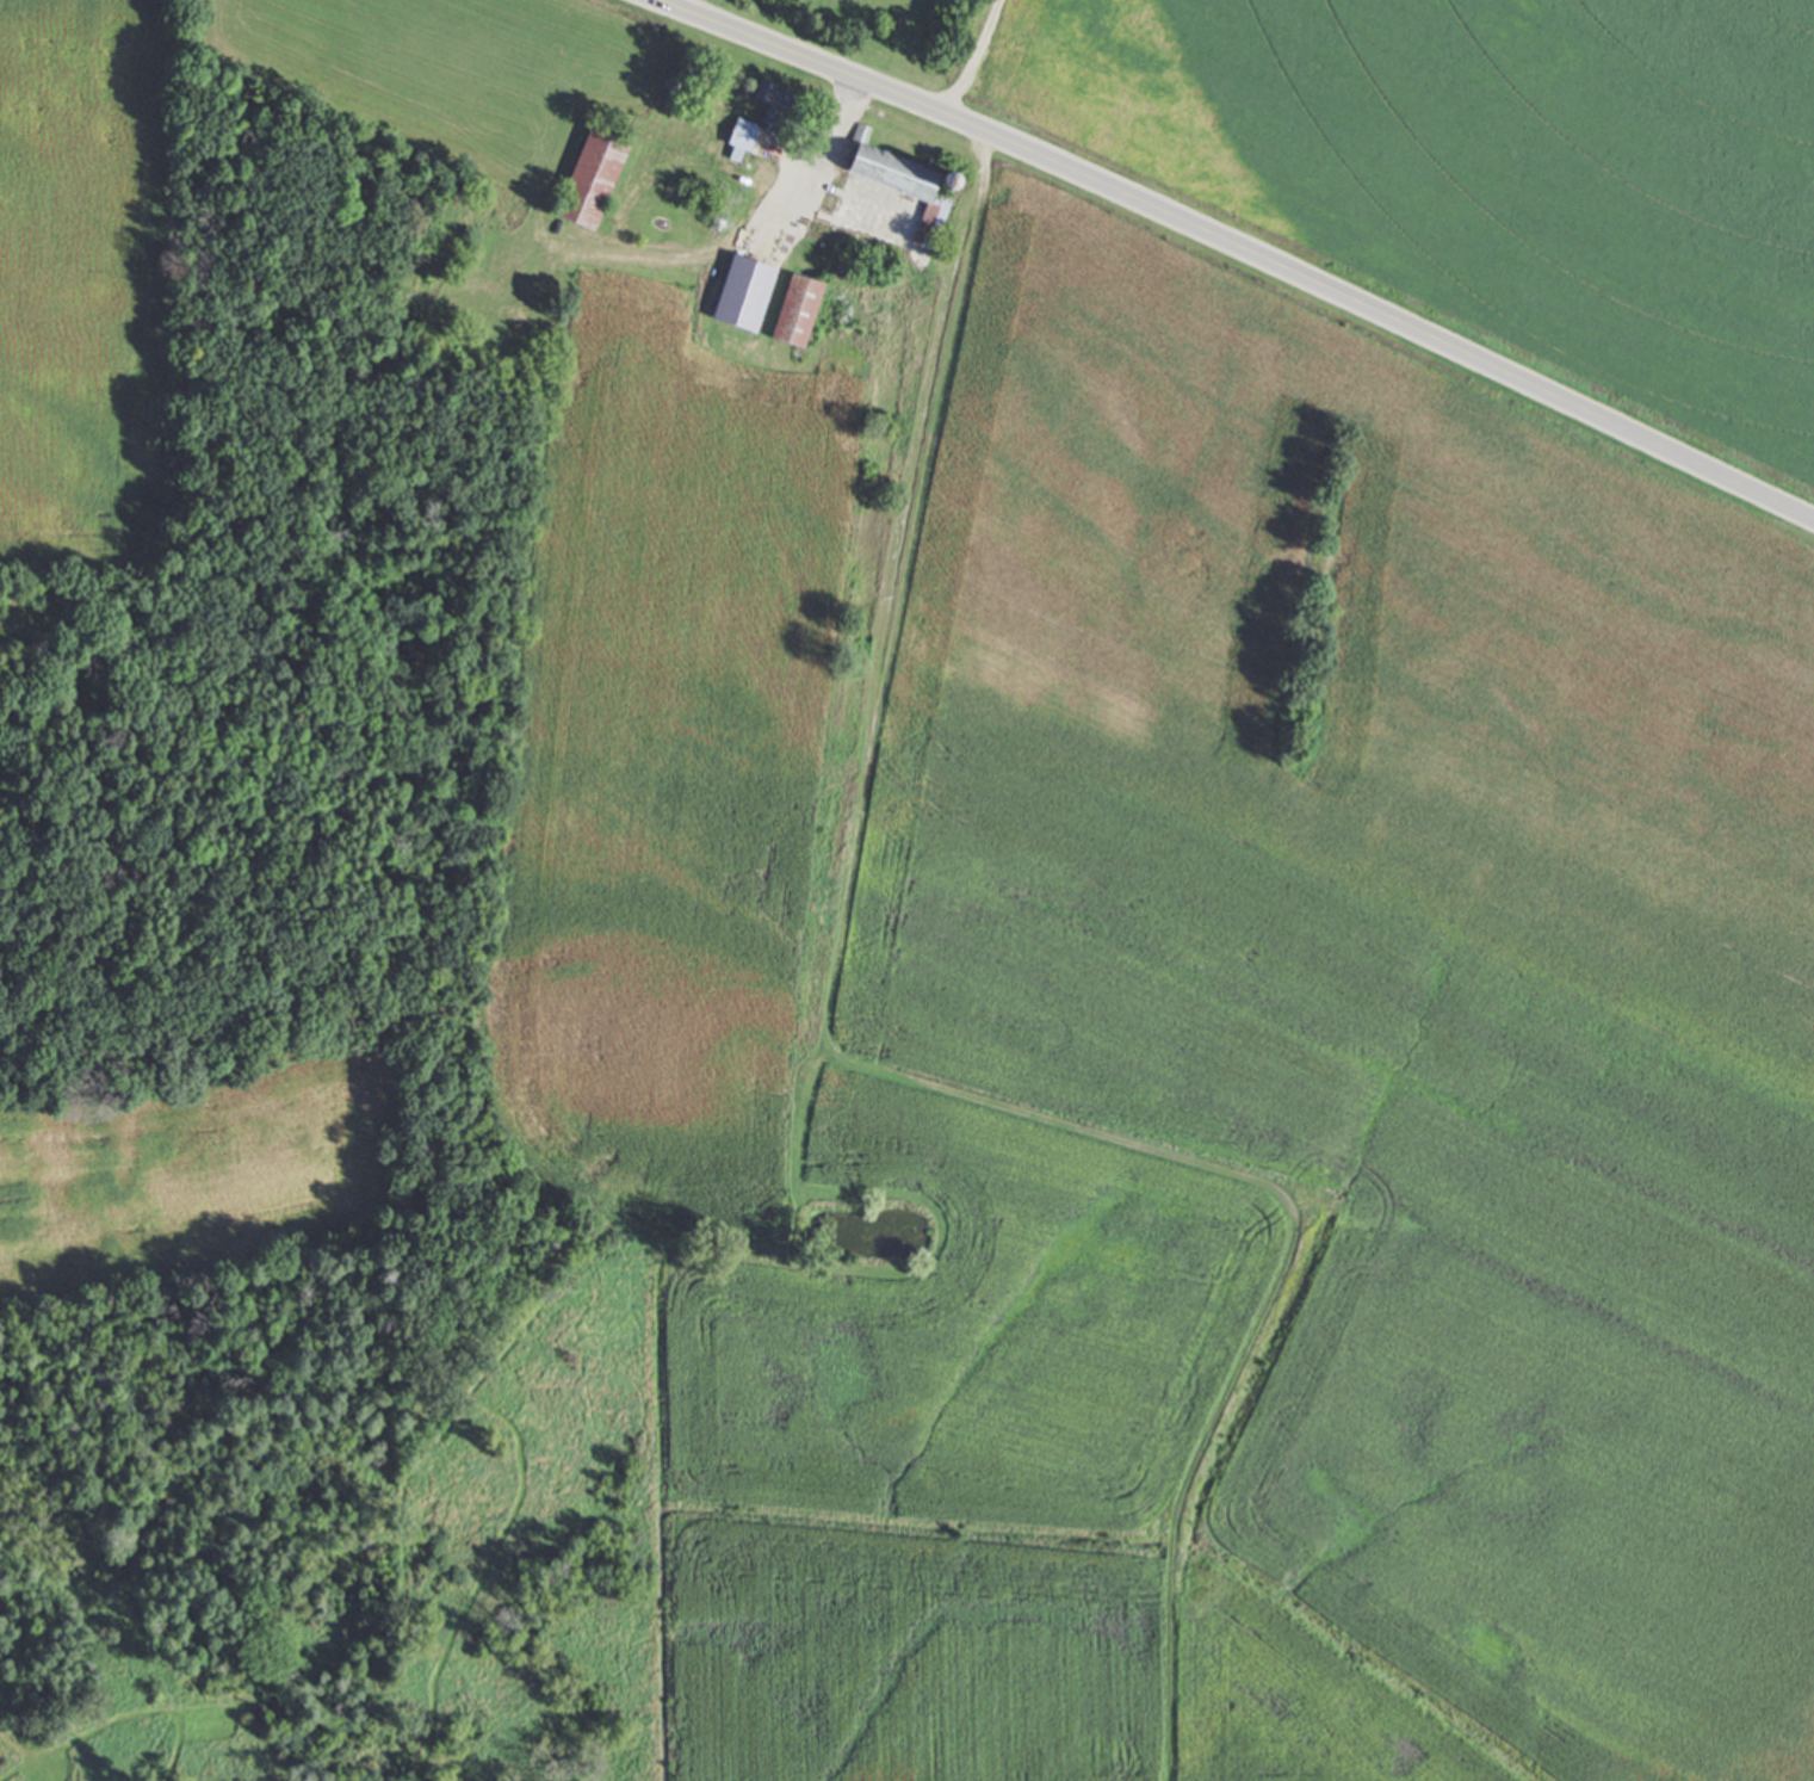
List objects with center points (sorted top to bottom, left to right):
building: (761, 116)
building: (594, 173)
building: (899, 183)
road: (1234, 252)
building: (757, 287)
building: (795, 309)

